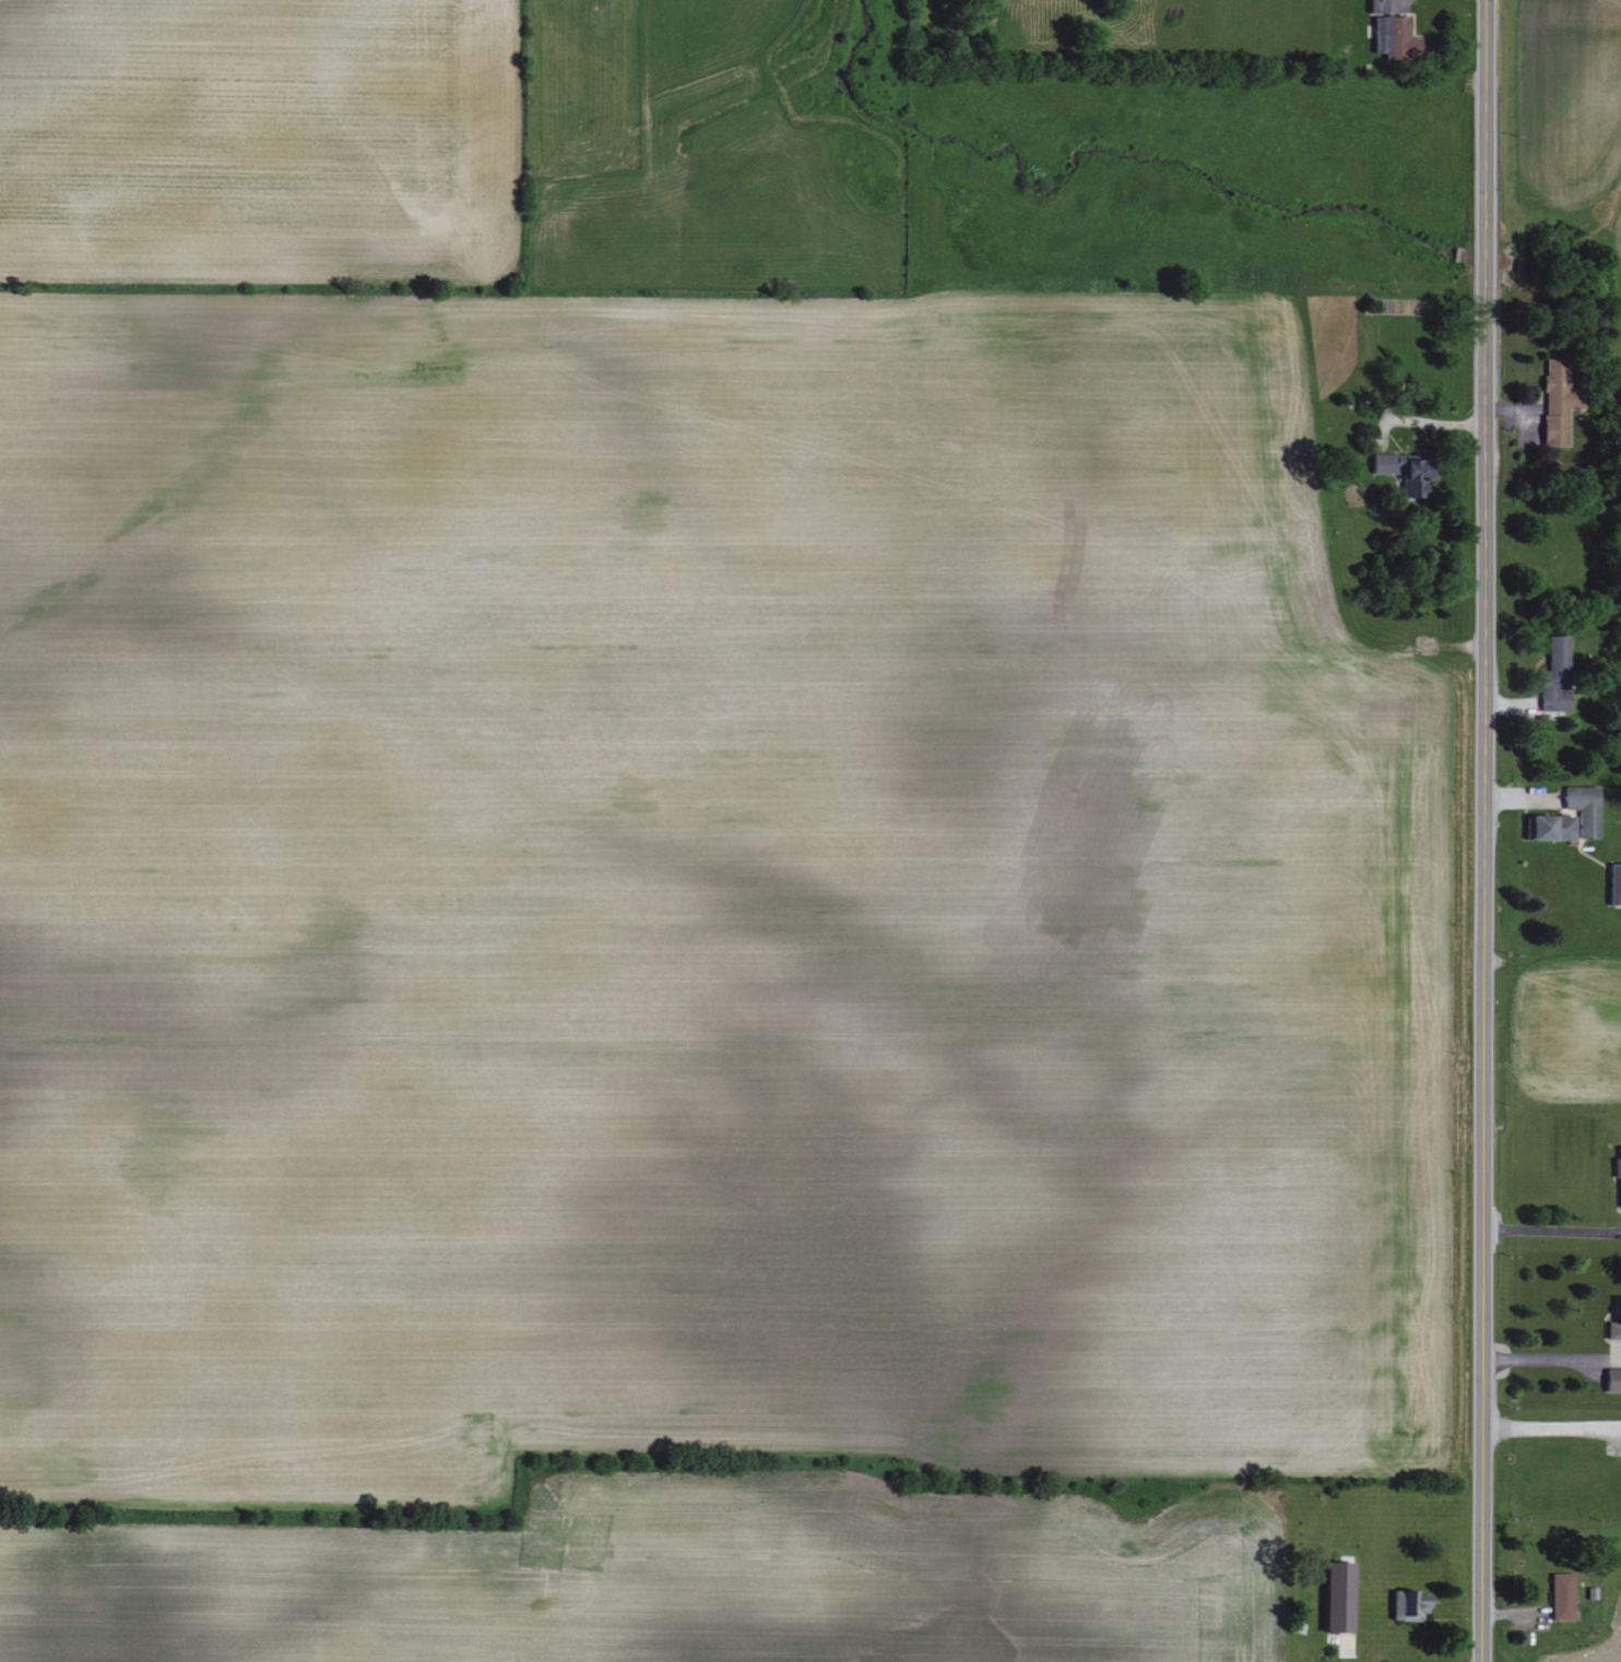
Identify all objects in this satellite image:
road: (1401, 0)
building: (1379, 7)
building: (1397, 38)
building: (1560, 401)
building: (1408, 471)
building: (1558, 673)
building: (1586, 808)
building: (1552, 827)
road: (1482, 831)
building: (1616, 883)
building: (1618, 1166)
road: (1551, 1230)
building: (1614, 1330)
road: (1552, 1360)
building: (1613, 1379)
road: (1550, 1428)
building: (1563, 1596)
building: (1341, 1598)
building: (1404, 1605)

